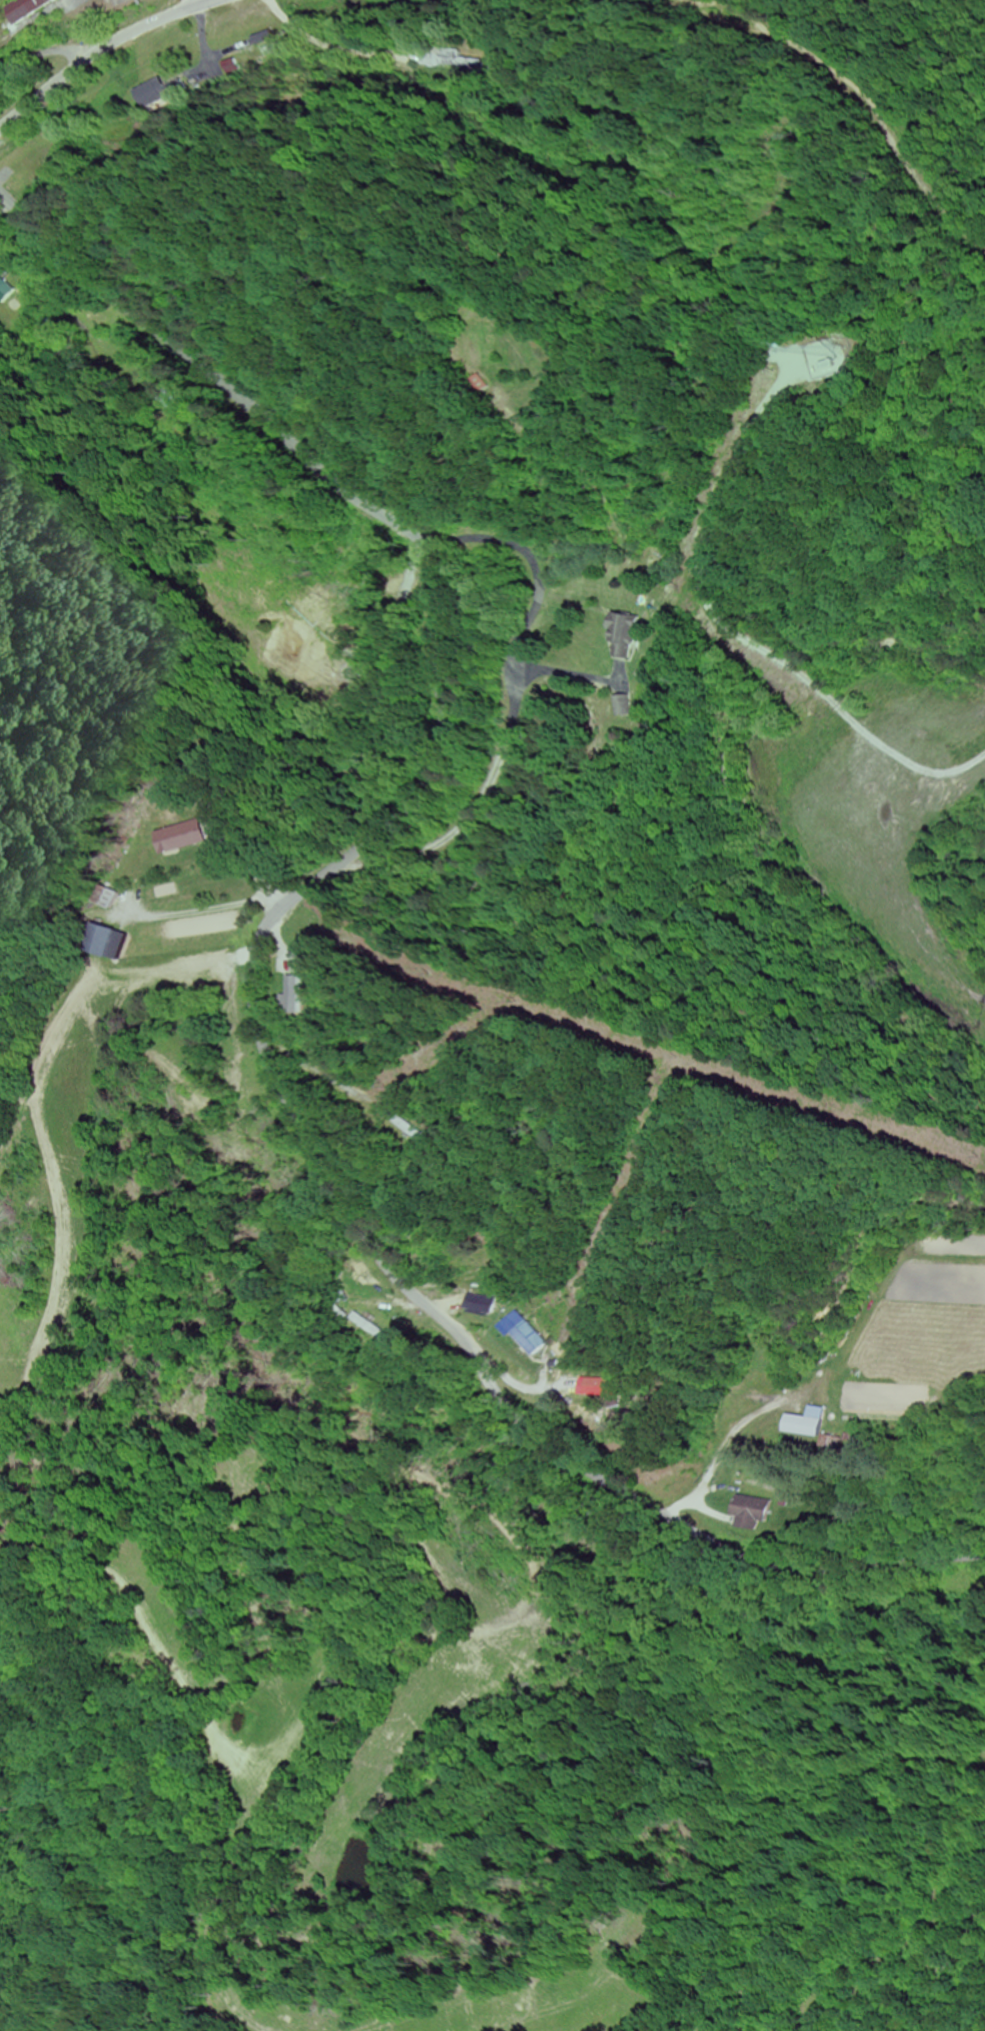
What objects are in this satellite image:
building: (25, 9)
road: (104, 52)
road: (25, 71)
building: (161, 94)
building: (628, 636)
road: (700, 644)
road: (254, 703)
building: (184, 838)
building: (113, 945)
road: (253, 964)
road: (439, 1108)
building: (478, 1305)
building: (528, 1339)
building: (599, 1388)
building: (803, 1424)
building: (755, 1512)

